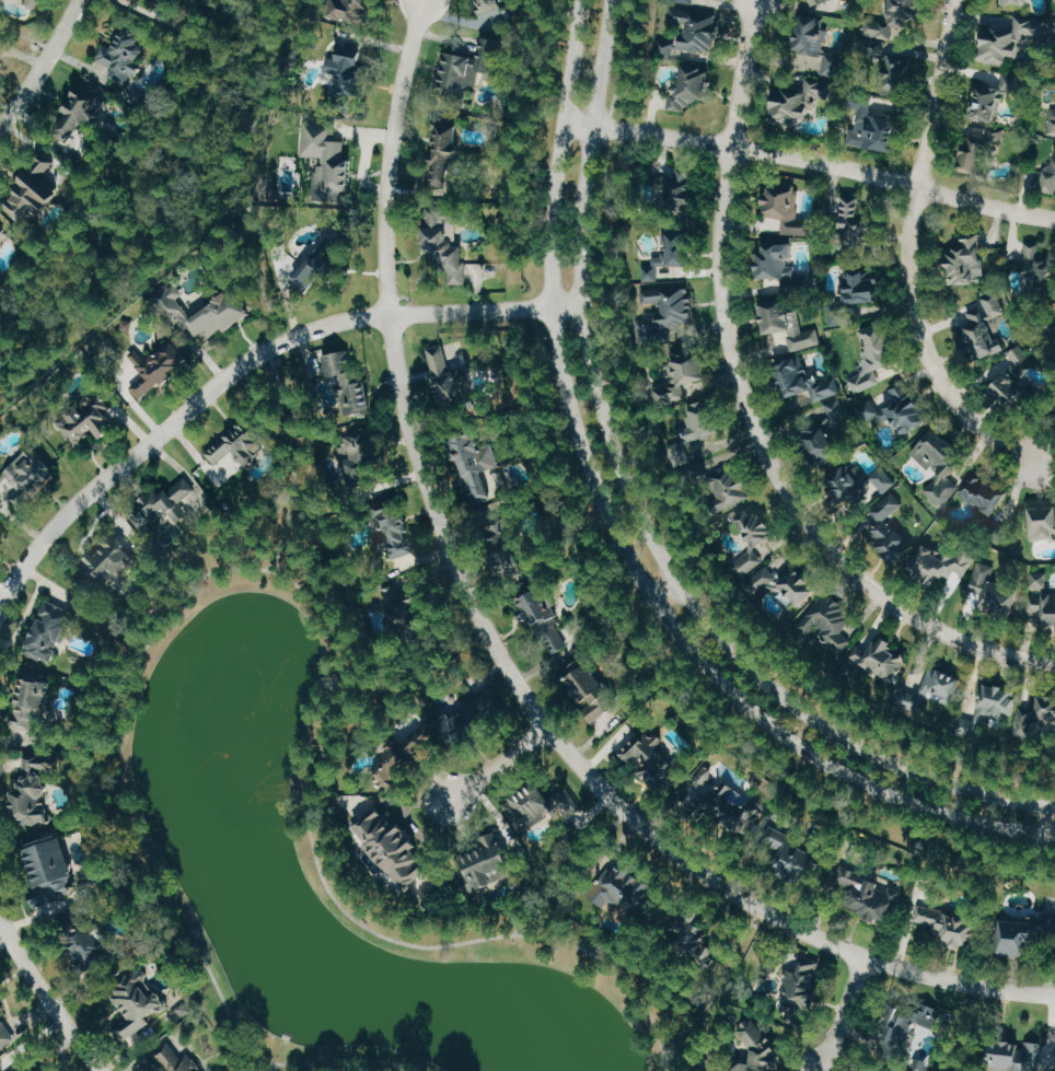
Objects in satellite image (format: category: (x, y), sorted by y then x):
building: (9, 0)
building: (687, 1)
building: (820, 1)
building: (1013, 1)
building: (34, 3)
building: (836, 4)
building: (491, 5)
building: (352, 9)
building: (893, 20)
building: (688, 33)
building: (813, 34)
road: (26, 36)
building: (1011, 38)
building: (1054, 40)
building: (872, 47)
building: (124, 53)
road: (44, 66)
building: (347, 72)
building: (693, 84)
building: (802, 100)
building: (989, 102)
building: (81, 110)
building: (1052, 121)
building: (878, 123)
building: (985, 149)
building: (447, 151)
building: (328, 159)
road: (810, 162)
building: (1048, 177)
building: (677, 189)
road: (150, 194)
building: (31, 196)
building: (788, 208)
building: (857, 225)
building: (3, 228)
road: (243, 237)
building: (444, 245)
road: (908, 253)
building: (671, 255)
building: (967, 258)
building: (778, 260)
building: (323, 263)
building: (1041, 267)
building: (861, 286)
road: (487, 310)
building: (206, 311)
building: (788, 324)
building: (984, 325)
building: (877, 359)
building: (155, 368)
building: (685, 377)
building: (804, 380)
building: (1015, 383)
building: (351, 384)
building: (904, 407)
road: (749, 411)
building: (869, 411)
building: (88, 420)
road: (167, 423)
building: (831, 430)
building: (698, 432)
building: (240, 444)
building: (360, 458)
road: (290, 462)
building: (477, 465)
building: (941, 468)
building: (25, 476)
building: (859, 482)
building: (730, 487)
road: (664, 493)
building: (984, 494)
building: (171, 503)
road: (642, 516)
building: (1043, 522)
building: (395, 529)
building: (890, 529)
road: (617, 538)
building: (753, 540)
road: (268, 562)
building: (943, 563)
building: (113, 566)
road: (269, 571)
building: (787, 583)
road: (664, 590)
building: (993, 590)
building: (1043, 597)
building: (404, 607)
building: (828, 620)
building: (49, 631)
road: (500, 654)
building: (881, 660)
building: (590, 686)
building: (932, 689)
building: (33, 700)
building: (997, 702)
building: (1045, 712)
building: (474, 714)
building: (405, 753)
building: (656, 760)
road: (496, 765)
building: (706, 775)
building: (36, 787)
building: (730, 806)
building: (535, 807)
road: (1050, 817)
building: (394, 847)
building: (789, 851)
building: (491, 865)
building: (51, 868)
building: (627, 893)
building: (870, 894)
building: (942, 920)
building: (1022, 934)
building: (695, 939)
building: (92, 948)
road: (716, 986)
building: (800, 990)
road: (49, 997)
building: (138, 1003)
building: (1, 1006)
road: (843, 1015)
road: (969, 1027)
building: (7, 1029)
building: (908, 1034)
road: (666, 1040)
building: (761, 1049)
building: (1024, 1057)
building: (176, 1059)
building: (40, 1068)
road: (271, 1068)
building: (21, 1070)

